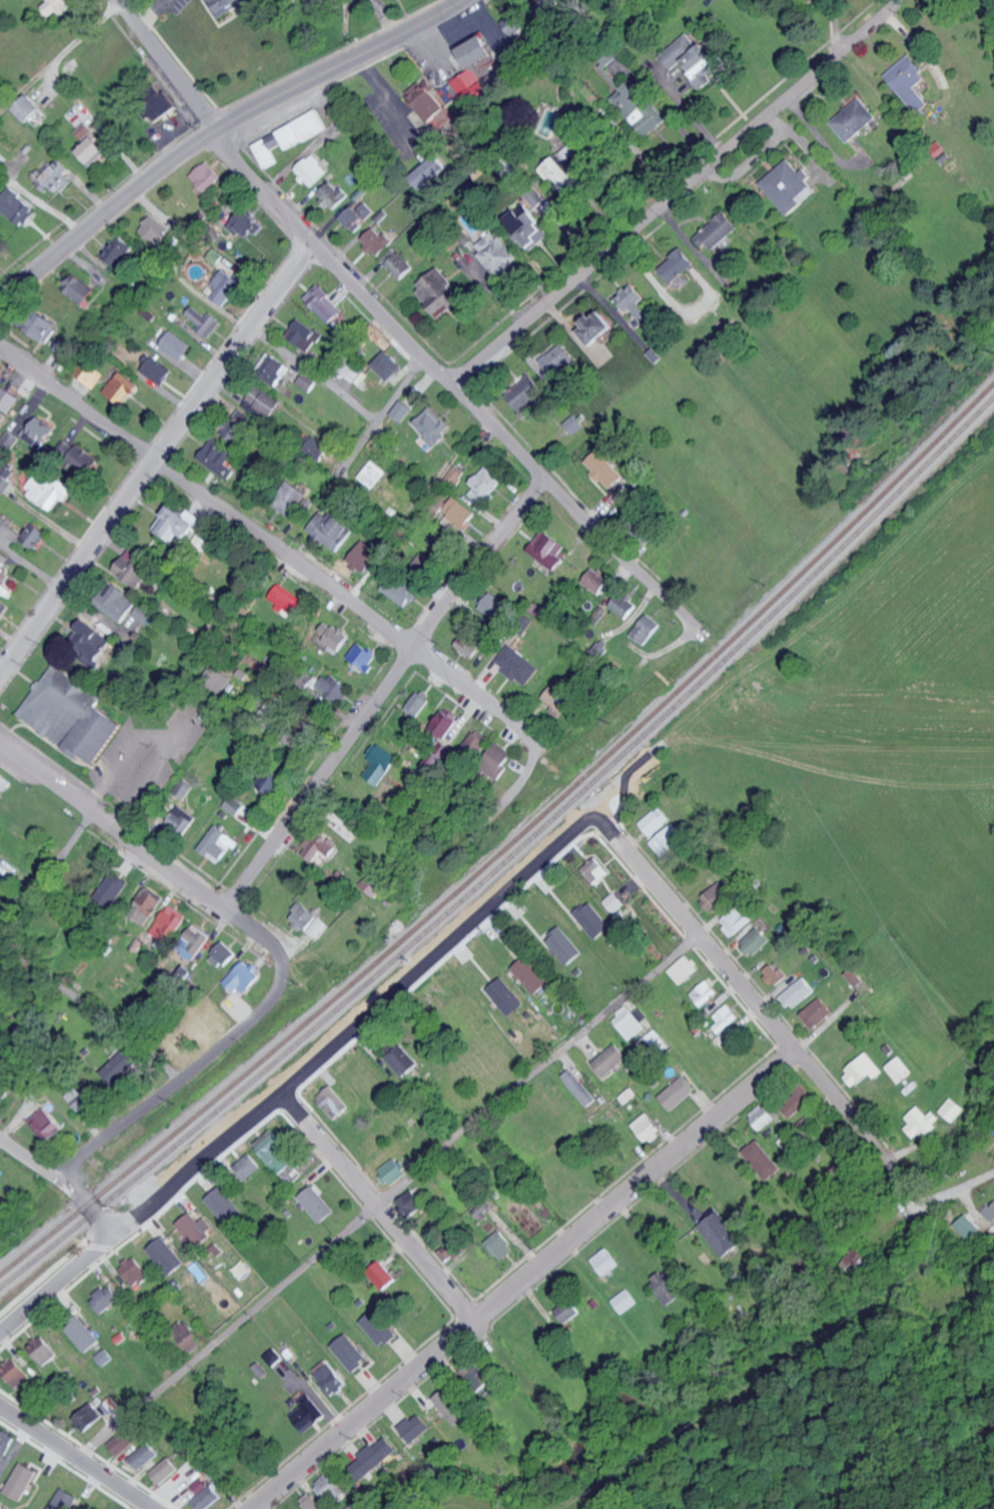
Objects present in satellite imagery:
building: (226, 5)
building: (58, 6)
road: (385, 19)
building: (516, 21)
building: (695, 59)
road: (168, 63)
building: (477, 68)
building: (911, 81)
road: (24, 87)
road: (60, 89)
road: (387, 99)
building: (158, 103)
building: (28, 107)
building: (638, 107)
building: (554, 117)
building: (856, 119)
road: (219, 127)
building: (303, 128)
building: (90, 144)
building: (266, 152)
building: (311, 169)
building: (430, 172)
building: (53, 175)
building: (206, 176)
building: (789, 185)
road: (677, 192)
building: (333, 195)
building: (17, 206)
building: (360, 215)
building: (245, 224)
building: (528, 226)
building: (158, 227)
building: (719, 231)
building: (377, 241)
building: (120, 251)
building: (498, 254)
building: (401, 265)
building: (678, 265)
building: (226, 285)
building: (78, 287)
building: (441, 291)
building: (634, 303)
building: (324, 304)
building: (204, 320)
building: (43, 326)
building: (598, 327)
building: (304, 334)
building: (176, 345)
building: (66, 347)
building: (559, 359)
building: (388, 365)
building: (158, 370)
building: (351, 370)
building: (275, 371)
road: (313, 373)
building: (307, 381)
road: (456, 384)
building: (122, 388)
building: (529, 394)
building: (10, 398)
building: (270, 403)
building: (402, 410)
road: (380, 416)
building: (576, 423)
building: (434, 425)
building: (37, 428)
building: (238, 430)
building: (317, 449)
building: (219, 458)
road: (157, 460)
building: (605, 467)
building: (374, 474)
building: (456, 475)
building: (486, 484)
building: (51, 488)
building: (290, 498)
building: (624, 499)
building: (458, 515)
building: (178, 522)
building: (329, 529)
building: (34, 532)
building: (208, 539)
road: (271, 544)
building: (549, 549)
building: (363, 556)
building: (3, 561)
road: (31, 569)
building: (134, 569)
building: (597, 581)
building: (7, 585)
building: (401, 591)
building: (287, 600)
building: (119, 605)
building: (498, 605)
building: (626, 606)
building: (3, 608)
building: (145, 615)
building: (647, 629)
building: (92, 637)
building: (338, 637)
building: (471, 642)
building: (363, 656)
building: (519, 664)
building: (219, 678)
building: (333, 687)
road: (381, 690)
building: (561, 702)
building: (72, 715)
building: (447, 721)
building: (476, 745)
building: (498, 762)
building: (380, 763)
building: (2, 779)
building: (273, 782)
building: (185, 788)
building: (236, 805)
building: (181, 821)
building: (655, 821)
road: (34, 838)
building: (668, 840)
railway: (510, 842)
building: (220, 844)
road: (143, 849)
building: (319, 849)
building: (0, 852)
railway: (510, 855)
building: (595, 870)
building: (375, 882)
building: (119, 887)
building: (715, 897)
building: (147, 904)
building: (593, 920)
building: (735, 920)
building: (308, 921)
building: (170, 923)
building: (754, 941)
building: (196, 942)
building: (565, 946)
building: (223, 954)
building: (683, 969)
building: (773, 974)
building: (531, 976)
building: (853, 977)
building: (244, 978)
building: (704, 993)
building: (797, 993)
building: (506, 997)
road: (749, 997)
road: (89, 1011)
building: (816, 1013)
building: (724, 1018)
building: (628, 1024)
building: (609, 1060)
building: (401, 1061)
building: (119, 1066)
building: (900, 1069)
building: (863, 1070)
road: (306, 1072)
road: (182, 1076)
building: (579, 1088)
building: (677, 1093)
building: (84, 1097)
building: (334, 1103)
building: (951, 1109)
building: (762, 1118)
building: (921, 1122)
building: (45, 1125)
building: (647, 1128)
building: (273, 1152)
building: (762, 1159)
building: (248, 1166)
building: (394, 1171)
road: (59, 1180)
road: (932, 1193)
road: (387, 1196)
building: (317, 1204)
building: (412, 1204)
building: (224, 1205)
road: (373, 1211)
building: (196, 1228)
building: (720, 1235)
building: (500, 1246)
building: (165, 1255)
building: (606, 1262)
building: (134, 1271)
building: (385, 1276)
road: (524, 1281)
building: (666, 1287)
building: (105, 1297)
building: (625, 1301)
building: (568, 1312)
building: (379, 1327)
building: (82, 1334)
building: (187, 1336)
building: (41, 1349)
building: (350, 1351)
building: (273, 1356)
building: (104, 1357)
building: (13, 1372)
building: (330, 1376)
building: (300, 1401)
road: (712, 1403)
building: (109, 1405)
building: (452, 1406)
building: (307, 1412)
building: (86, 1416)
building: (418, 1429)
building: (124, 1439)
building: (5, 1440)
building: (143, 1455)
building: (377, 1455)
road: (78, 1457)
road: (868, 1463)
building: (164, 1470)
building: (21, 1480)
building: (327, 1483)
building: (199, 1485)
building: (207, 1497)
building: (63, 1499)
building: (313, 1504)

